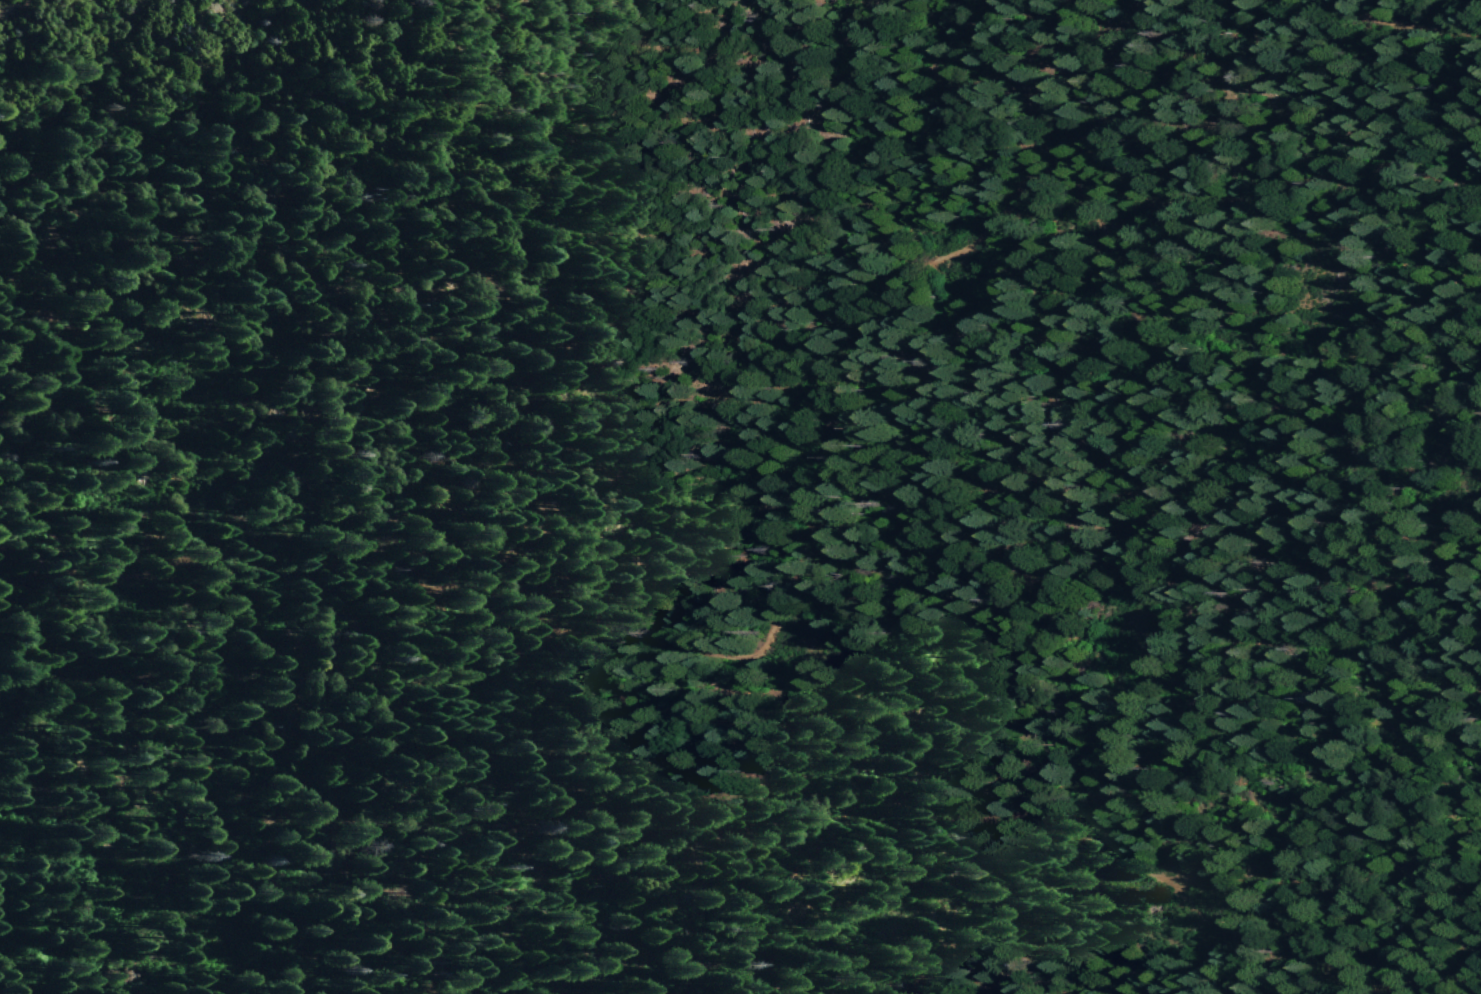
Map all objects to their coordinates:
road: (1403, 23)
road: (773, 603)

